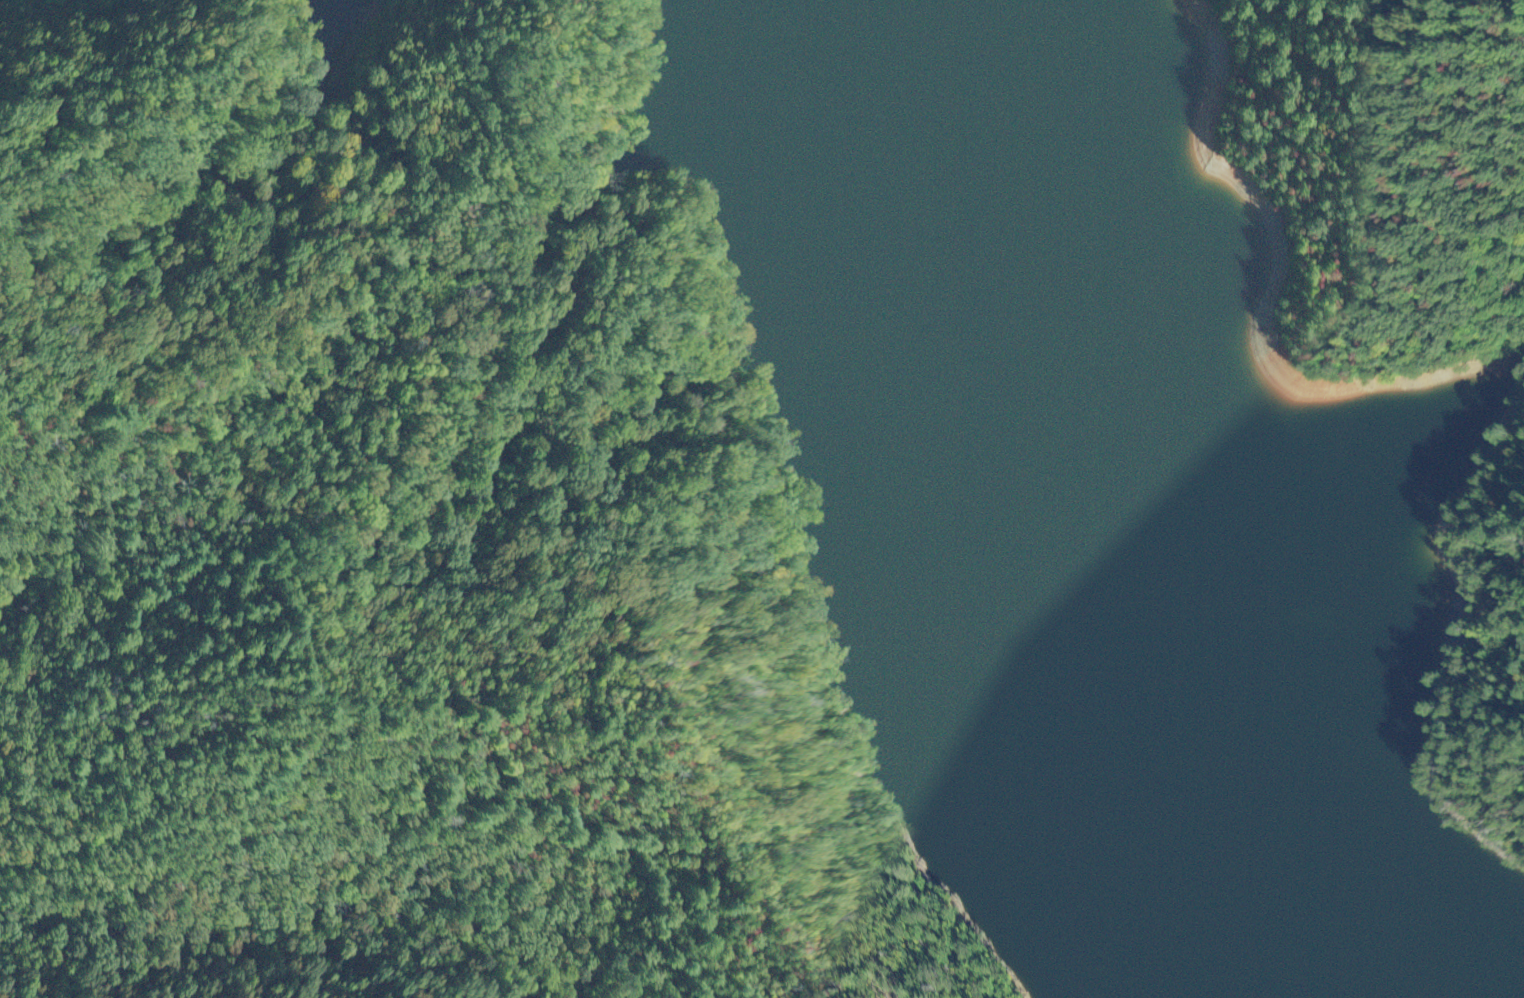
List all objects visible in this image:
river: (1139, 530)

